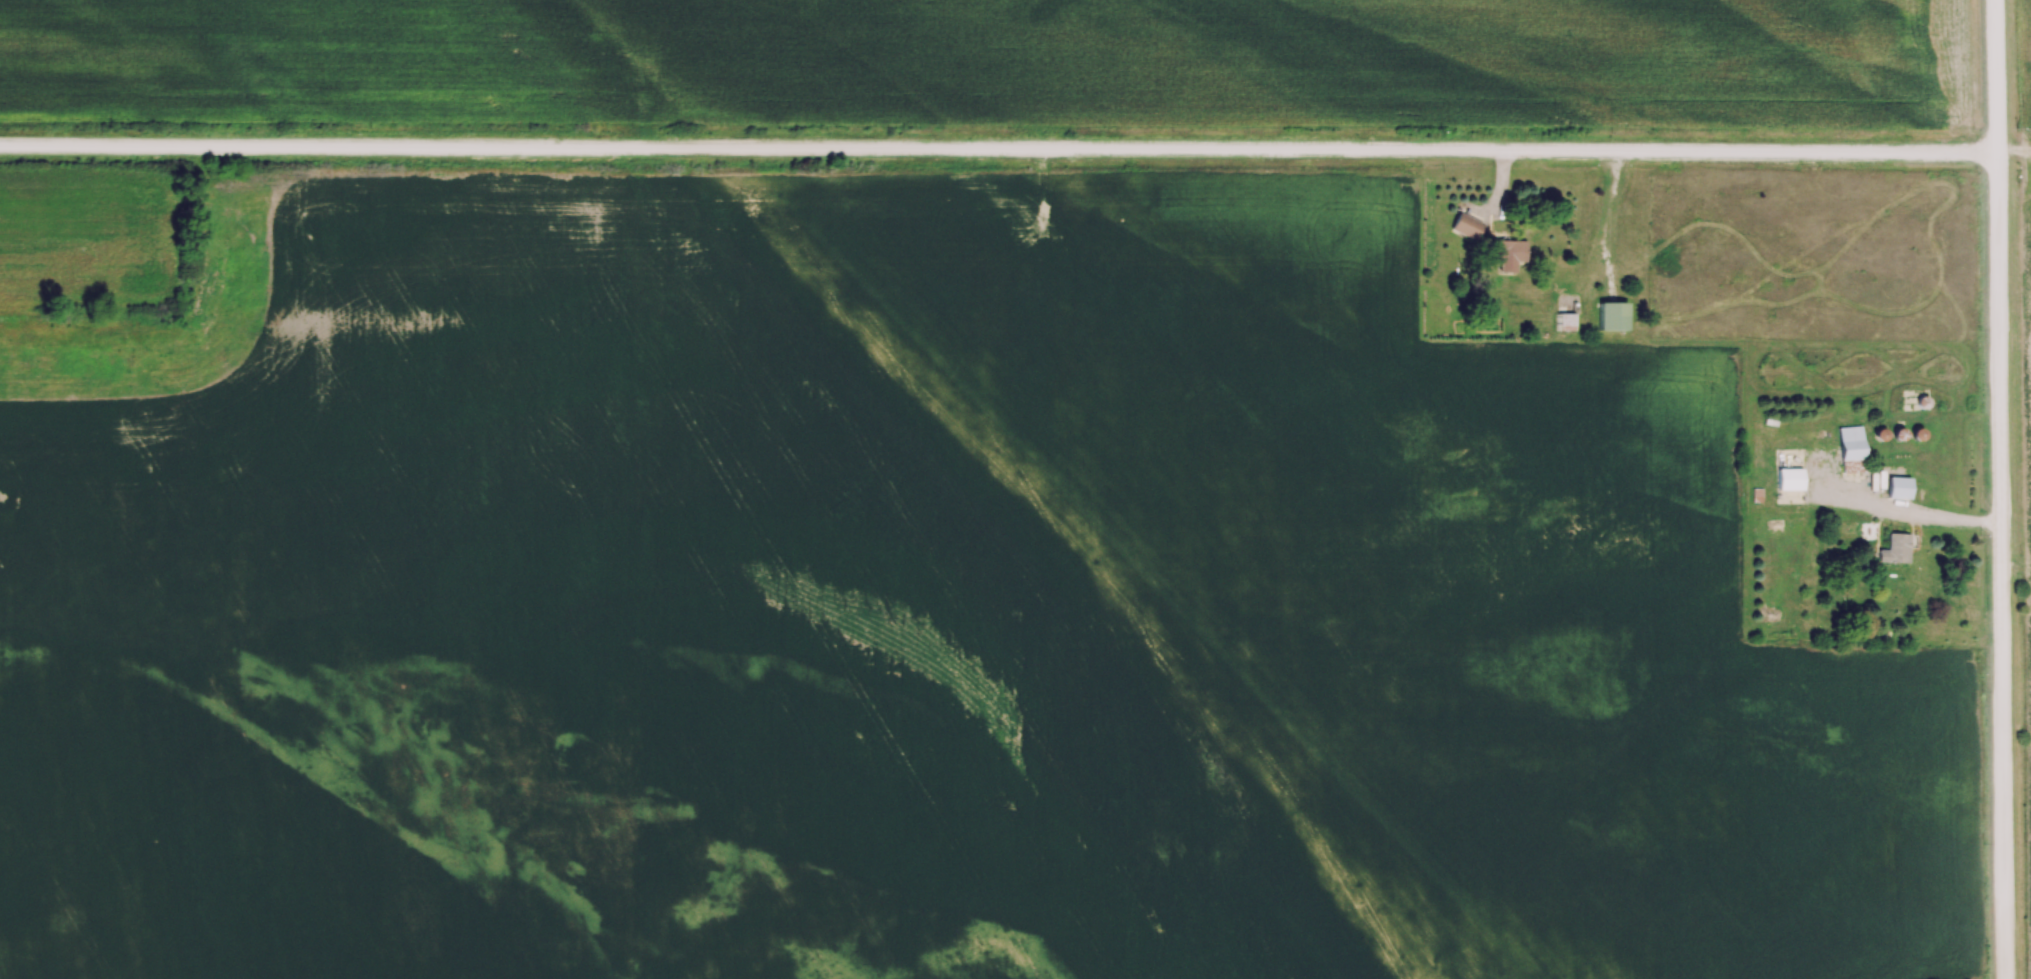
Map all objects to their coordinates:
road: (999, 147)
road: (1994, 489)
road: (1926, 515)

